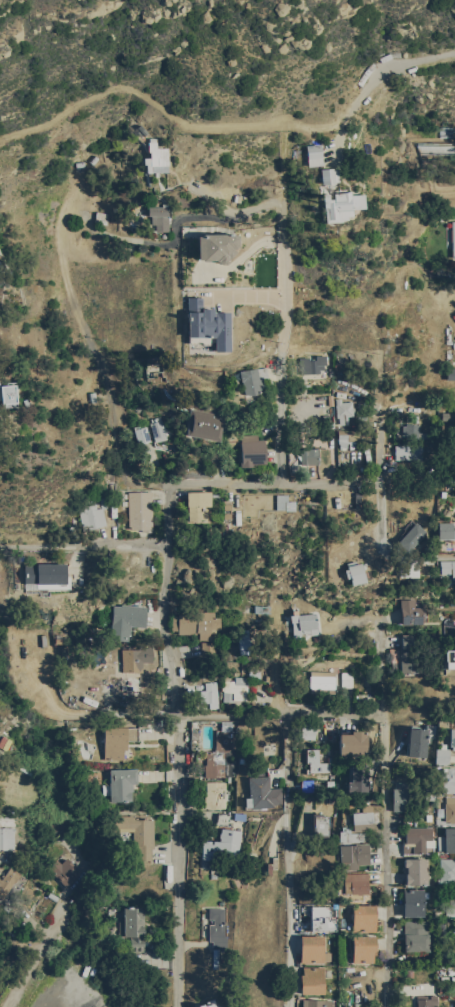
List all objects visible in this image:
road: (399, 72)
road: (168, 111)
road: (346, 123)
building: (313, 154)
building: (155, 157)
building: (327, 174)
road: (273, 203)
building: (341, 205)
building: (157, 218)
road: (174, 233)
building: (453, 237)
building: (215, 246)
building: (207, 323)
road: (285, 335)
road: (114, 355)
building: (450, 373)
building: (251, 379)
building: (7, 395)
building: (342, 411)
building: (202, 424)
building: (156, 428)
building: (411, 430)
building: (141, 434)
building: (346, 437)
building: (252, 450)
building: (408, 452)
building: (308, 455)
road: (382, 472)
road: (163, 489)
road: (278, 489)
building: (283, 502)
building: (197, 505)
building: (138, 510)
building: (90, 516)
building: (445, 530)
building: (410, 536)
road: (86, 546)
building: (407, 567)
building: (447, 567)
building: (353, 572)
building: (43, 573)
road: (171, 605)
building: (409, 612)
building: (125, 619)
building: (195, 623)
building: (303, 624)
building: (242, 641)
building: (208, 648)
building: (409, 652)
building: (135, 658)
building: (449, 658)
building: (320, 679)
building: (346, 679)
building: (234, 688)
building: (207, 693)
road: (287, 715)
road: (88, 716)
road: (386, 718)
road: (283, 719)
building: (452, 737)
building: (118, 740)
building: (417, 741)
building: (353, 742)
building: (220, 752)
building: (442, 755)
building: (316, 761)
building: (358, 778)
building: (448, 779)
building: (122, 783)
building: (306, 785)
building: (263, 793)
building: (216, 794)
building: (401, 796)
building: (450, 808)
building: (365, 819)
building: (320, 825)
building: (57, 829)
building: (138, 834)
building: (350, 835)
building: (6, 837)
building: (450, 839)
building: (419, 840)
building: (223, 845)
building: (354, 855)
road: (178, 862)
building: (63, 870)
building: (416, 871)
building: (447, 871)
building: (8, 880)
road: (288, 881)
building: (356, 882)
road: (387, 883)
building: (0, 902)
building: (414, 902)
building: (451, 903)
building: (364, 917)
building: (322, 918)
building: (134, 926)
building: (441, 926)
building: (218, 928)
building: (417, 935)
building: (454, 938)
building: (311, 948)
building: (364, 948)
road: (33, 959)
building: (311, 980)
building: (427, 1000)
building: (211, 1003)
building: (316, 1003)

